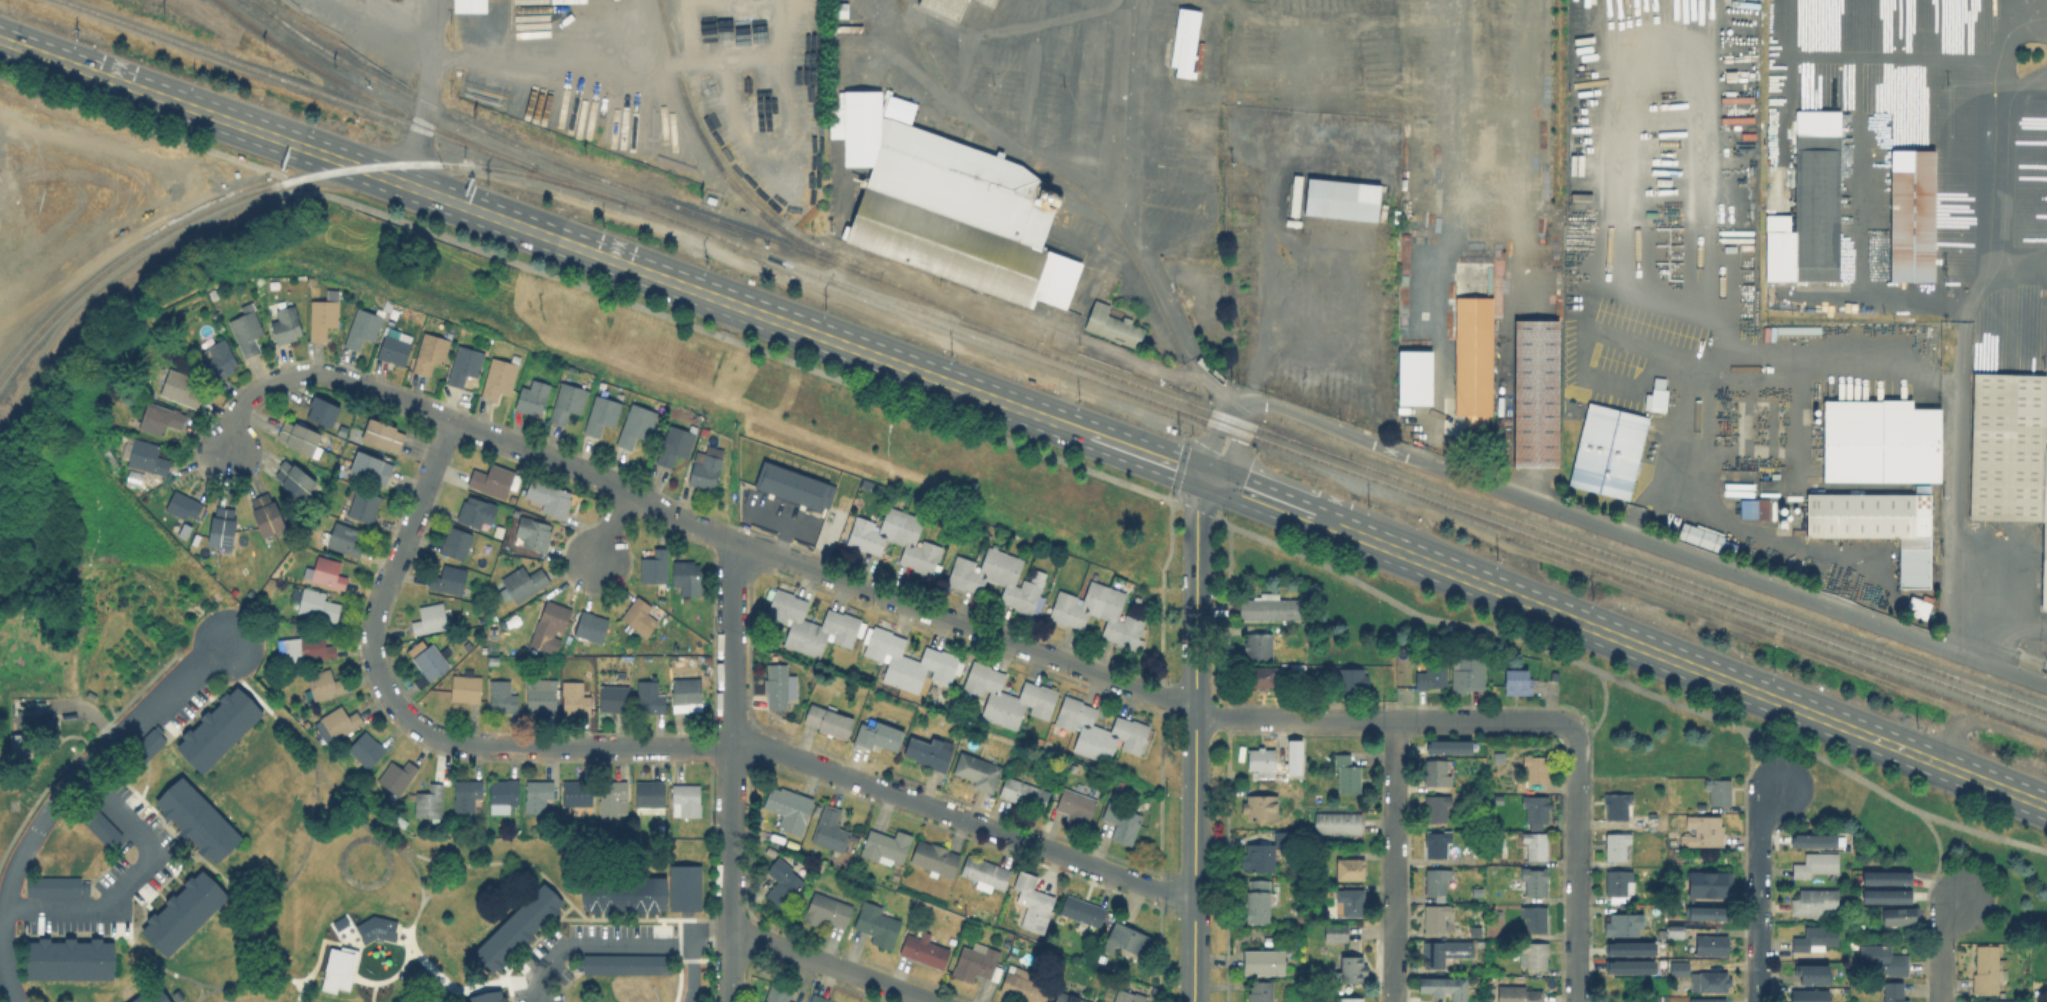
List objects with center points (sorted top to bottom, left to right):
railway: (262, 5)
building: (469, 5)
building: (955, 8)
road: (379, 27)
building: (1186, 42)
road: (1857, 86)
road: (425, 93)
railway: (368, 95)
road: (1109, 98)
railway: (724, 171)
railway: (274, 182)
railway: (635, 189)
building: (1340, 198)
building: (1812, 203)
building: (951, 209)
building: (1914, 218)
road: (1136, 223)
road: (525, 228)
road: (583, 285)
road: (1885, 288)
building: (324, 317)
building: (287, 323)
building: (1114, 325)
building: (360, 328)
railway: (1170, 328)
building: (248, 331)
road: (1183, 333)
building: (1477, 340)
road: (1659, 348)
road: (1963, 348)
building: (392, 350)
building: (431, 352)
building: (220, 358)
building: (516, 358)
road: (1255, 360)
building: (466, 364)
railway: (1054, 364)
building: (1413, 377)
building: (497, 378)
building: (182, 388)
building: (1537, 395)
building: (1655, 395)
building: (534, 396)
building: (568, 401)
building: (322, 412)
building: (602, 414)
building: (158, 418)
building: (637, 425)
building: (693, 428)
building: (383, 434)
road: (1214, 437)
building: (299, 438)
building: (676, 444)
building: (1880, 444)
road: (1236, 445)
road: (1130, 448)
building: (1606, 450)
building: (2009, 453)
road: (1678, 456)
building: (149, 457)
building: (372, 468)
building: (703, 470)
traffic signals: (1210, 478)
building: (296, 480)
building: (493, 480)
road: (1175, 483)
building: (798, 489)
railway: (1442, 492)
building: (1737, 493)
building: (549, 499)
road: (1194, 503)
road: (1278, 503)
building: (184, 505)
building: (365, 505)
building: (1753, 508)
building: (478, 511)
building: (268, 514)
road: (691, 522)
building: (1875, 524)
road: (614, 526)
building: (223, 527)
building: (533, 532)
building: (345, 538)
building: (1706, 538)
building: (897, 539)
road: (1642, 540)
building: (456, 542)
building: (655, 568)
building: (328, 574)
building: (687, 578)
building: (450, 580)
building: (999, 580)
building: (523, 583)
building: (687, 598)
building: (319, 605)
building: (1916, 606)
building: (1271, 609)
building: (640, 616)
building: (1101, 616)
railway: (1730, 617)
building: (431, 619)
building: (553, 619)
building: (810, 623)
building: (592, 627)
road: (2009, 630)
building: (1261, 646)
building: (316, 647)
building: (907, 659)
building: (431, 661)
road: (1696, 668)
building: (1469, 675)
building: (1263, 676)
building: (1432, 677)
building: (1353, 679)
building: (325, 683)
building: (1518, 683)
road: (1630, 683)
building: (778, 685)
building: (466, 689)
building: (687, 691)
building: (1008, 695)
building: (502, 696)
building: (651, 696)
building: (576, 697)
building: (614, 697)
building: (542, 698)
road: (1603, 712)
road: (1392, 719)
building: (341, 720)
building: (829, 721)
building: (217, 727)
building: (1099, 731)
building: (881, 737)
road: (1195, 738)
building: (20, 745)
building: (143, 745)
building: (1448, 746)
road: (648, 747)
building: (367, 749)
building: (929, 753)
building: (1293, 756)
building: (1261, 759)
road: (1753, 762)
building: (1538, 767)
road: (731, 771)
building: (979, 771)
building: (1437, 772)
building: (1348, 773)
building: (398, 775)
building: (1720, 791)
road: (58, 793)
building: (651, 793)
building: (467, 794)
building: (578, 794)
building: (612, 794)
building: (1024, 794)
building: (503, 796)
building: (538, 796)
building: (688, 798)
building: (431, 802)
building: (1077, 806)
building: (1438, 807)
building: (1536, 808)
building: (1623, 808)
building: (789, 809)
building: (1261, 809)
building: (92, 817)
building: (196, 818)
building: (1122, 822)
building: (1340, 823)
building: (831, 829)
building: (1705, 830)
road: (378, 838)
building: (1505, 839)
building: (1815, 839)
road: (391, 844)
building: (1437, 844)
building: (1537, 845)
building: (1618, 845)
building: (887, 847)
building: (771, 852)
building: (1266, 853)
building: (936, 858)
road: (1939, 858)
road: (431, 861)
road: (1394, 861)
road: (529, 862)
building: (1817, 865)
building: (1350, 869)
building: (987, 872)
road: (1577, 872)
road: (131, 877)
building: (1885, 877)
building: (1438, 879)
building: (1536, 880)
building: (782, 882)
building: (54, 884)
building: (1620, 884)
building: (683, 885)
building: (1711, 886)
building: (874, 888)
road: (1758, 891)
building: (623, 892)
building: (1888, 896)
building: (1259, 900)
building: (1816, 901)
road: (277, 902)
building: (1350, 902)
building: (1033, 905)
building: (182, 910)
building: (826, 910)
building: (1084, 910)
building: (1710, 912)
road: (1952, 913)
building: (1436, 917)
building: (1536, 917)
building: (1902, 917)
road: (696, 920)
building: (878, 925)
building: (1625, 925)
building: (373, 926)
building: (515, 926)
building: (1337, 933)
building: (1676, 933)
road: (380, 936)
building: (1817, 939)
building: (1126, 940)
building: (1712, 945)
road: (622, 946)
building: (1629, 948)
building: (925, 951)
building: (1445, 954)
building: (1535, 956)
building: (69, 957)
building: (1883, 958)
road: (158, 960)
building: (623, 961)
road: (331, 962)
building: (976, 962)
building: (1264, 963)
road: (832, 964)
road: (1940, 964)
building: (1630, 967)
building: (1354, 969)
building: (1680, 969)
building: (1988, 970)
road: (338, 972)
building: (1814, 973)
building: (1713, 981)
road: (229, 985)
building: (1023, 987)
building: (1444, 988)
building: (779, 990)
road: (373, 991)
building: (1261, 991)
road: (198, 992)
building: (1895, 992)
building: (149, 994)
building: (1519, 994)
building: (487, 996)
building: (1128, 996)
building: (1811, 996)
building: (1067, 998)
building: (1662, 998)
building: (818, 999)
building: (1352, 999)
building: (1709, 1000)
building: (1992, 1001)

